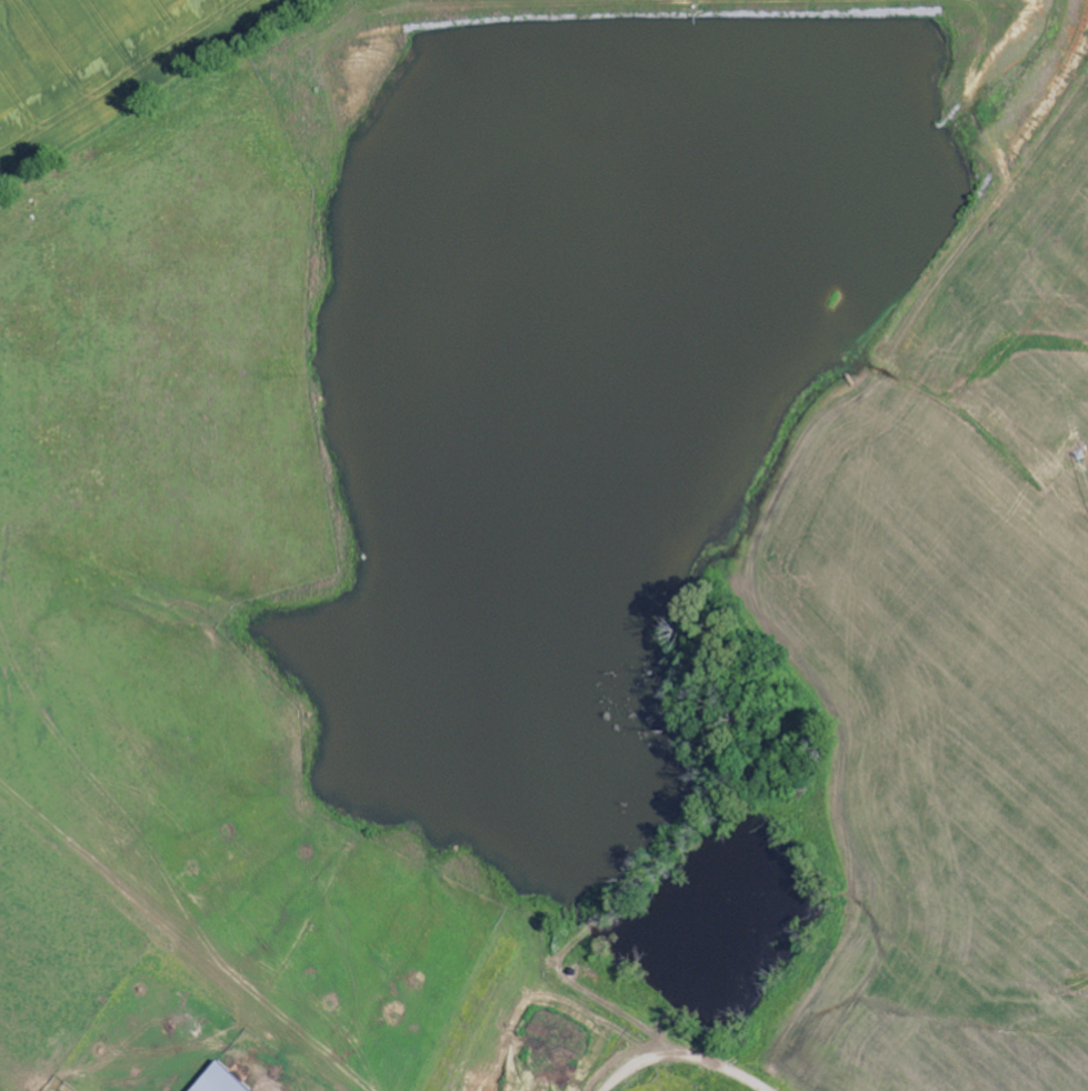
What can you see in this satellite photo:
building: (220, 1081)

